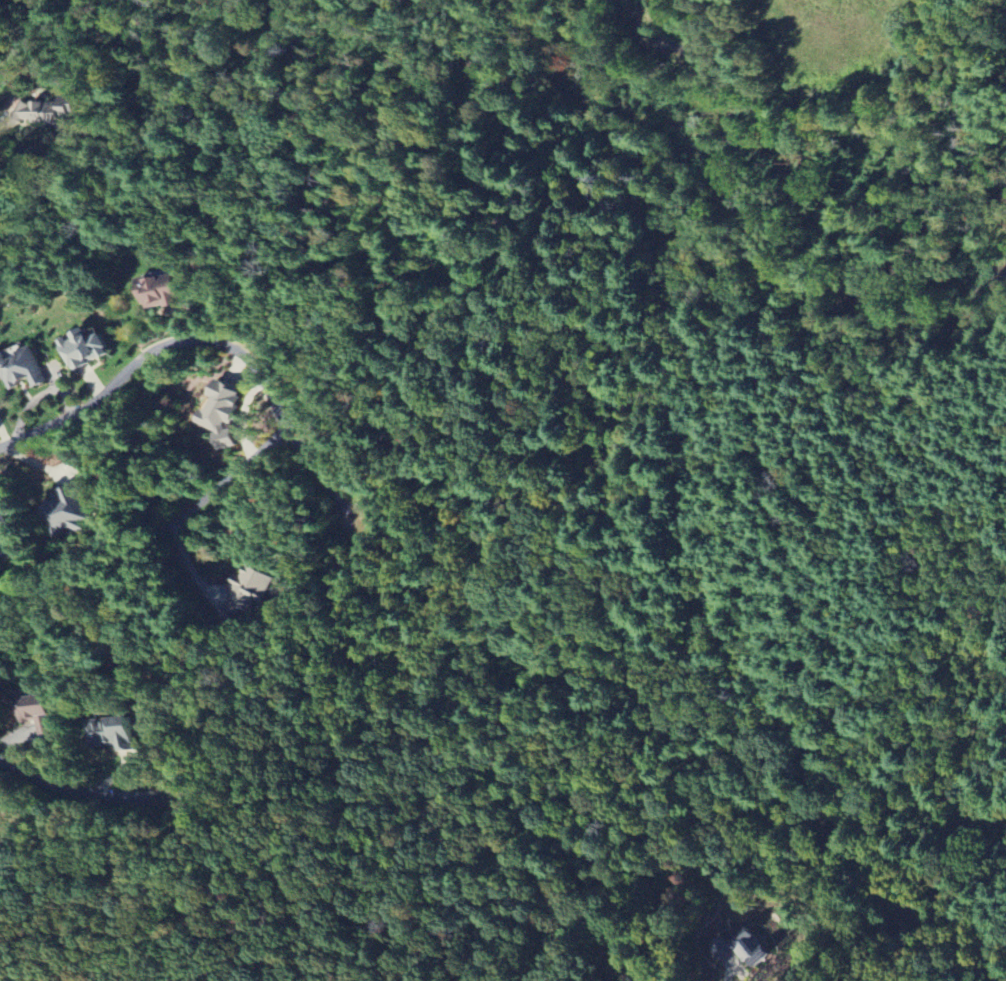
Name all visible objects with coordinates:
building: (47, 110)
building: (161, 292)
road: (205, 338)
building: (87, 349)
building: (23, 367)
road: (200, 497)
building: (62, 510)
building: (7, 524)
building: (244, 594)
building: (41, 709)
building: (113, 733)
road: (85, 791)
building: (741, 945)
road: (730, 974)

